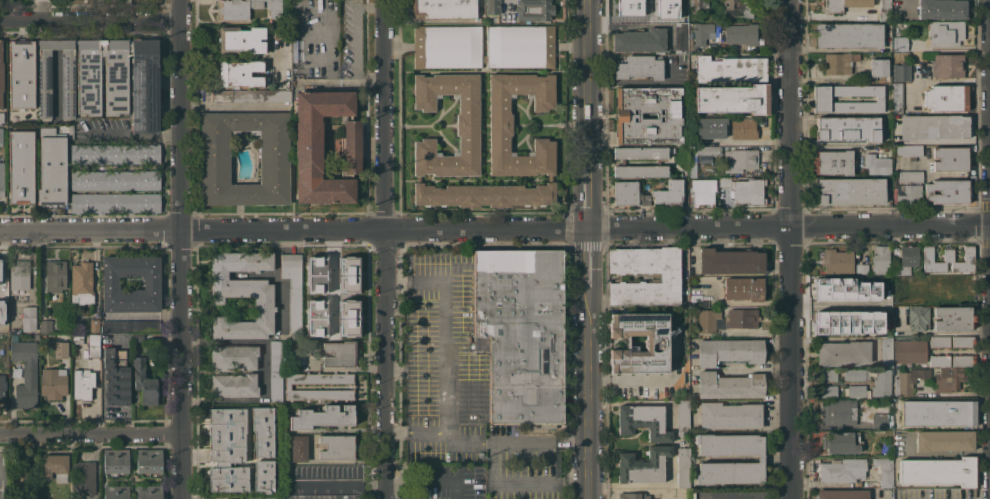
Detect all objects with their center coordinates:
building: (697, 4)
building: (841, 5)
building: (492, 7)
building: (275, 8)
building: (739, 8)
building: (237, 9)
building: (444, 9)
building: (636, 9)
building: (666, 9)
building: (942, 9)
building: (534, 10)
building: (884, 10)
road: (88, 15)
building: (681, 16)
road: (625, 25)
building: (716, 25)
building: (945, 32)
building: (702, 33)
building: (741, 33)
building: (848, 35)
building: (681, 38)
building: (241, 39)
building: (447, 40)
building: (640, 40)
building: (690, 43)
building: (899, 43)
road: (331, 47)
road: (355, 51)
building: (915, 57)
building: (838, 62)
building: (947, 65)
building: (639, 67)
building: (878, 67)
building: (730, 69)
building: (900, 72)
building: (240, 73)
building: (21, 74)
building: (1, 76)
road: (371, 81)
building: (67, 83)
building: (144, 85)
building: (116, 89)
building: (250, 96)
building: (897, 96)
building: (946, 97)
building: (821, 98)
building: (732, 99)
building: (627, 115)
building: (1, 117)
building: (709, 127)
building: (933, 127)
building: (743, 128)
building: (848, 128)
road: (130, 135)
building: (1, 136)
building: (468, 140)
road: (752, 142)
road: (825, 144)
building: (308, 147)
building: (907, 150)
building: (642, 152)
building: (114, 153)
building: (950, 158)
building: (274, 159)
building: (739, 159)
building: (692, 161)
building: (832, 162)
building: (876, 164)
building: (21, 167)
building: (52, 168)
building: (641, 171)
building: (720, 172)
building: (1, 180)
building: (115, 180)
building: (723, 181)
building: (907, 187)
building: (702, 191)
building: (748, 191)
building: (850, 191)
building: (947, 191)
building: (668, 193)
building: (628, 194)
building: (115, 203)
road: (494, 227)
road: (183, 249)
road: (388, 249)
road: (582, 249)
road: (788, 249)
building: (879, 259)
building: (906, 260)
building: (948, 260)
building: (730, 261)
building: (837, 261)
building: (861, 268)
building: (316, 274)
building: (19, 275)
building: (55, 275)
building: (348, 275)
building: (665, 275)
building: (0, 277)
building: (110, 282)
building: (81, 283)
road: (399, 283)
building: (744, 288)
building: (844, 288)
building: (900, 288)
building: (943, 289)
building: (293, 290)
building: (242, 293)
road: (836, 305)
building: (1, 312)
building: (316, 317)
building: (917, 317)
building: (28, 318)
building: (348, 318)
building: (953, 318)
building: (725, 319)
building: (833, 324)
building: (94, 325)
building: (44, 326)
building: (130, 326)
building: (521, 333)
building: (138, 337)
building: (77, 339)
road: (446, 340)
building: (939, 341)
building: (963, 341)
building: (655, 344)
building: (60, 349)
building: (92, 349)
building: (729, 351)
building: (908, 351)
building: (885, 352)
building: (843, 353)
building: (339, 354)
building: (276, 356)
building: (234, 357)
building: (288, 359)
building: (963, 360)
building: (939, 361)
parking lot: (443, 363)
building: (25, 372)
building: (921, 372)
building: (827, 374)
building: (855, 374)
building: (116, 376)
building: (948, 379)
building: (144, 382)
building: (53, 383)
building: (881, 383)
building: (902, 383)
building: (82, 384)
building: (233, 385)
building: (729, 385)
building: (276, 386)
building: (287, 386)
building: (2, 387)
building: (827, 391)
building: (856, 391)
building: (839, 412)
building: (938, 412)
building: (730, 415)
building: (682, 416)
building: (323, 417)
building: (880, 420)
building: (643, 422)
building: (262, 430)
road: (397, 432)
road: (427, 434)
road: (91, 436)
road: (466, 438)
building: (944, 440)
road: (568, 442)
building: (840, 442)
road: (519, 443)
road: (672, 445)
building: (336, 447)
building: (299, 448)
building: (227, 449)
building: (760, 458)
building: (115, 460)
building: (149, 461)
building: (643, 465)
building: (55, 466)
building: (682, 467)
building: (841, 470)
building: (938, 471)
building: (881, 473)
building: (263, 476)
building: (20, 477)
building: (83, 477)
road: (340, 484)
building: (116, 491)
building: (149, 491)
building: (842, 494)
building: (633, 495)
building: (84, 497)
building: (266, 498)

